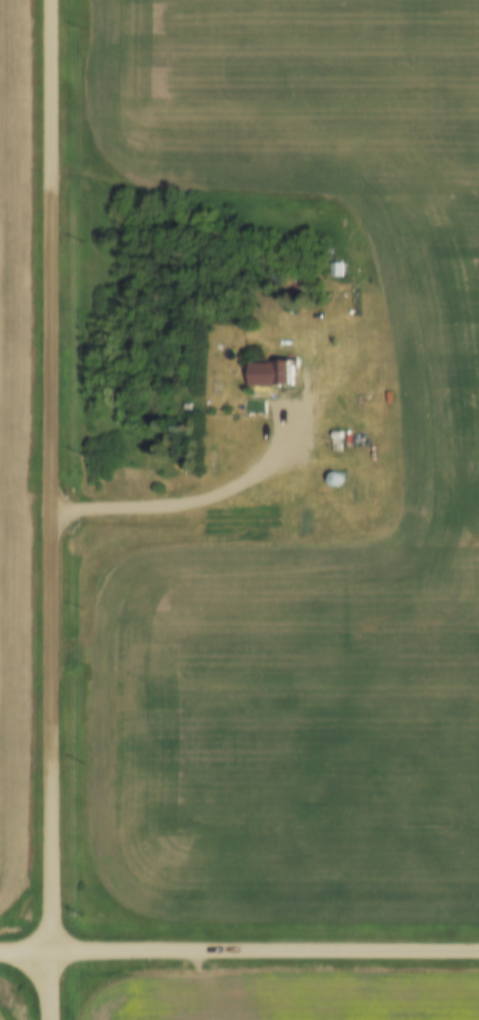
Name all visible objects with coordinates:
building: (340, 265)
building: (274, 368)
building: (341, 436)
building: (336, 441)
road: (49, 474)
building: (339, 475)
silo: (339, 475)
road: (202, 501)
road: (264, 949)
road: (25, 950)
road: (50, 985)

